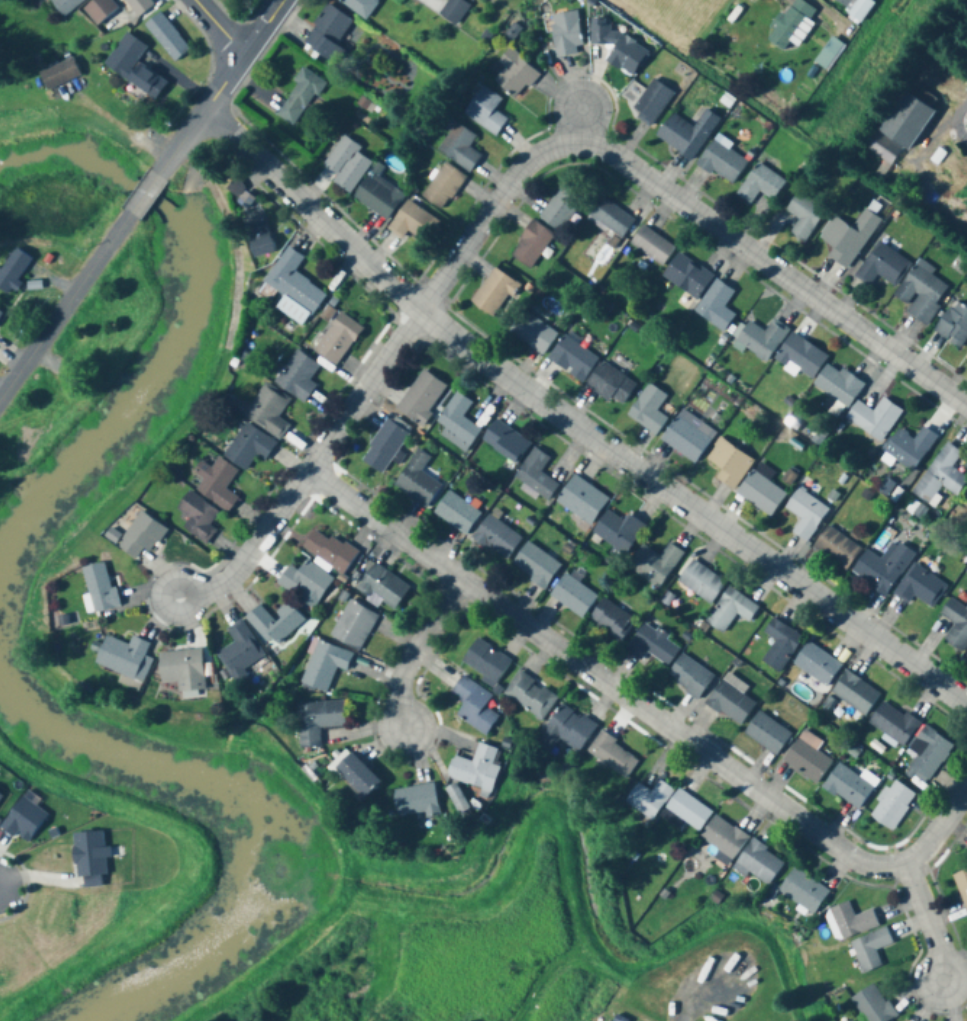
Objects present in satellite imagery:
building: (71, 5)
building: (360, 6)
building: (854, 6)
building: (143, 7)
building: (453, 11)
road: (819, 12)
building: (793, 24)
road: (214, 32)
building: (566, 33)
building: (328, 34)
building: (171, 37)
building: (618, 48)
road: (246, 55)
building: (140, 68)
building: (514, 74)
building: (65, 75)
building: (299, 98)
building: (651, 103)
building: (485, 111)
road: (948, 112)
building: (908, 116)
building: (686, 133)
road: (186, 146)
building: (459, 148)
building: (721, 162)
building: (347, 164)
building: (759, 184)
building: (443, 186)
building: (240, 194)
building: (378, 196)
road: (146, 198)
road: (674, 201)
building: (560, 208)
building: (804, 216)
building: (611, 218)
building: (411, 221)
building: (848, 237)
building: (258, 238)
building: (531, 245)
building: (651, 245)
building: (883, 266)
building: (17, 272)
building: (687, 276)
building: (293, 288)
building: (493, 293)
building: (921, 293)
building: (716, 306)
road: (65, 310)
building: (2, 314)
building: (953, 326)
building: (532, 333)
building: (762, 339)
building: (336, 340)
building: (801, 356)
building: (572, 358)
building: (966, 359)
building: (297, 376)
building: (610, 385)
building: (838, 386)
road: (3, 390)
building: (421, 398)
building: (269, 410)
building: (648, 410)
building: (458, 419)
building: (873, 419)
road: (574, 425)
building: (688, 436)
building: (505, 441)
building: (248, 447)
building: (384, 447)
building: (910, 447)
building: (726, 464)
building: (941, 474)
road: (319, 475)
building: (536, 475)
building: (417, 480)
building: (216, 483)
building: (761, 490)
building: (965, 495)
building: (581, 500)
building: (456, 513)
building: (805, 514)
building: (197, 517)
building: (617, 531)
building: (141, 537)
building: (496, 538)
building: (836, 548)
building: (329, 550)
building: (655, 564)
building: (535, 566)
building: (882, 569)
building: (701, 582)
building: (305, 583)
building: (920, 587)
building: (382, 588)
building: (99, 589)
building: (573, 596)
building: (730, 611)
building: (610, 621)
building: (273, 624)
building: (955, 625)
building: (353, 626)
building: (780, 645)
building: (651, 646)
building: (239, 652)
road: (415, 653)
building: (125, 658)
building: (486, 661)
building: (816, 664)
building: (324, 666)
building: (182, 670)
building: (689, 676)
road: (607, 684)
building: (855, 693)
building: (530, 695)
building: (729, 700)
building: (471, 701)
building: (317, 721)
building: (893, 723)
building: (565, 729)
building: (766, 733)
building: (928, 753)
building: (612, 755)
building: (807, 757)
building: (475, 767)
building: (353, 774)
building: (847, 786)
building: (413, 800)
building: (668, 805)
building: (892, 805)
road: (937, 827)
building: (723, 839)
building: (759, 863)
building: (962, 886)
building: (802, 891)
road: (928, 919)
building: (851, 920)
building: (869, 949)
building: (873, 1004)
building: (619, 1018)

